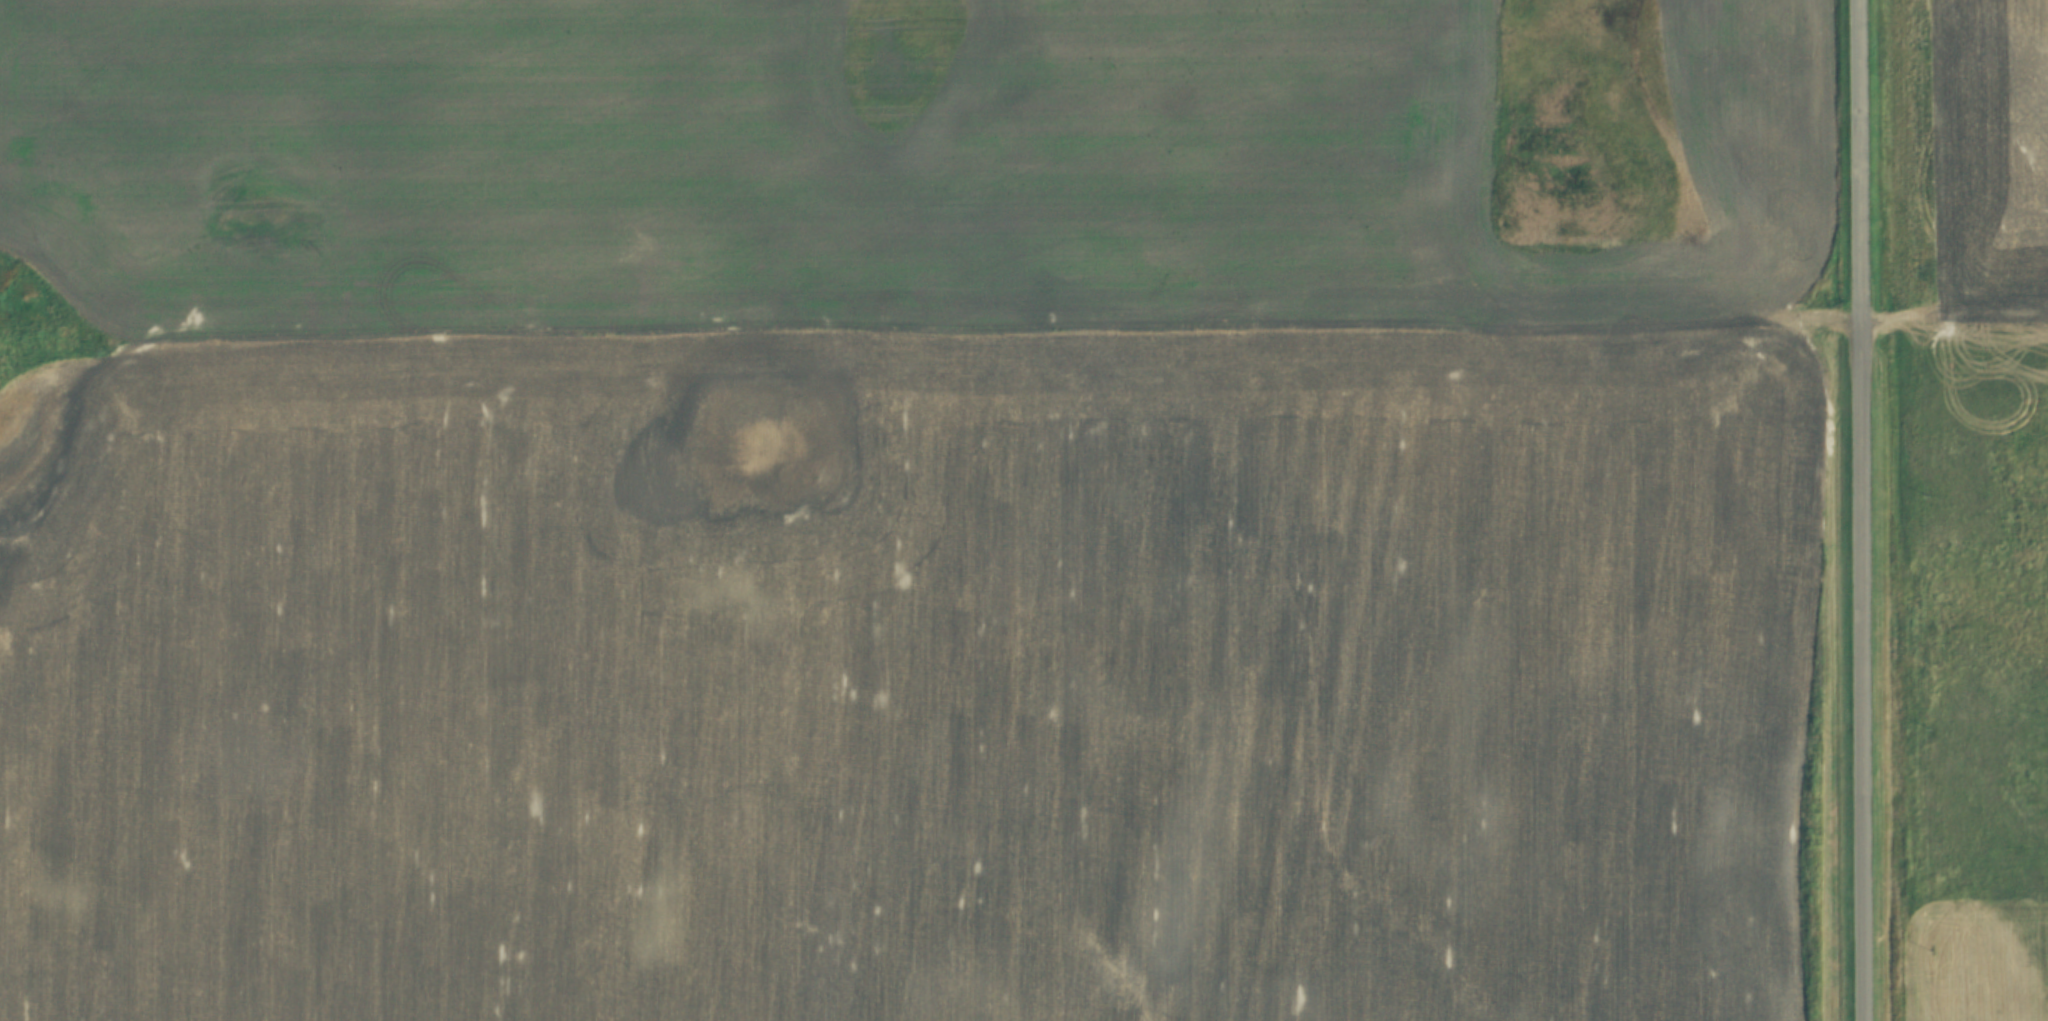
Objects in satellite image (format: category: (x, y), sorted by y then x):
road: (1862, 510)

